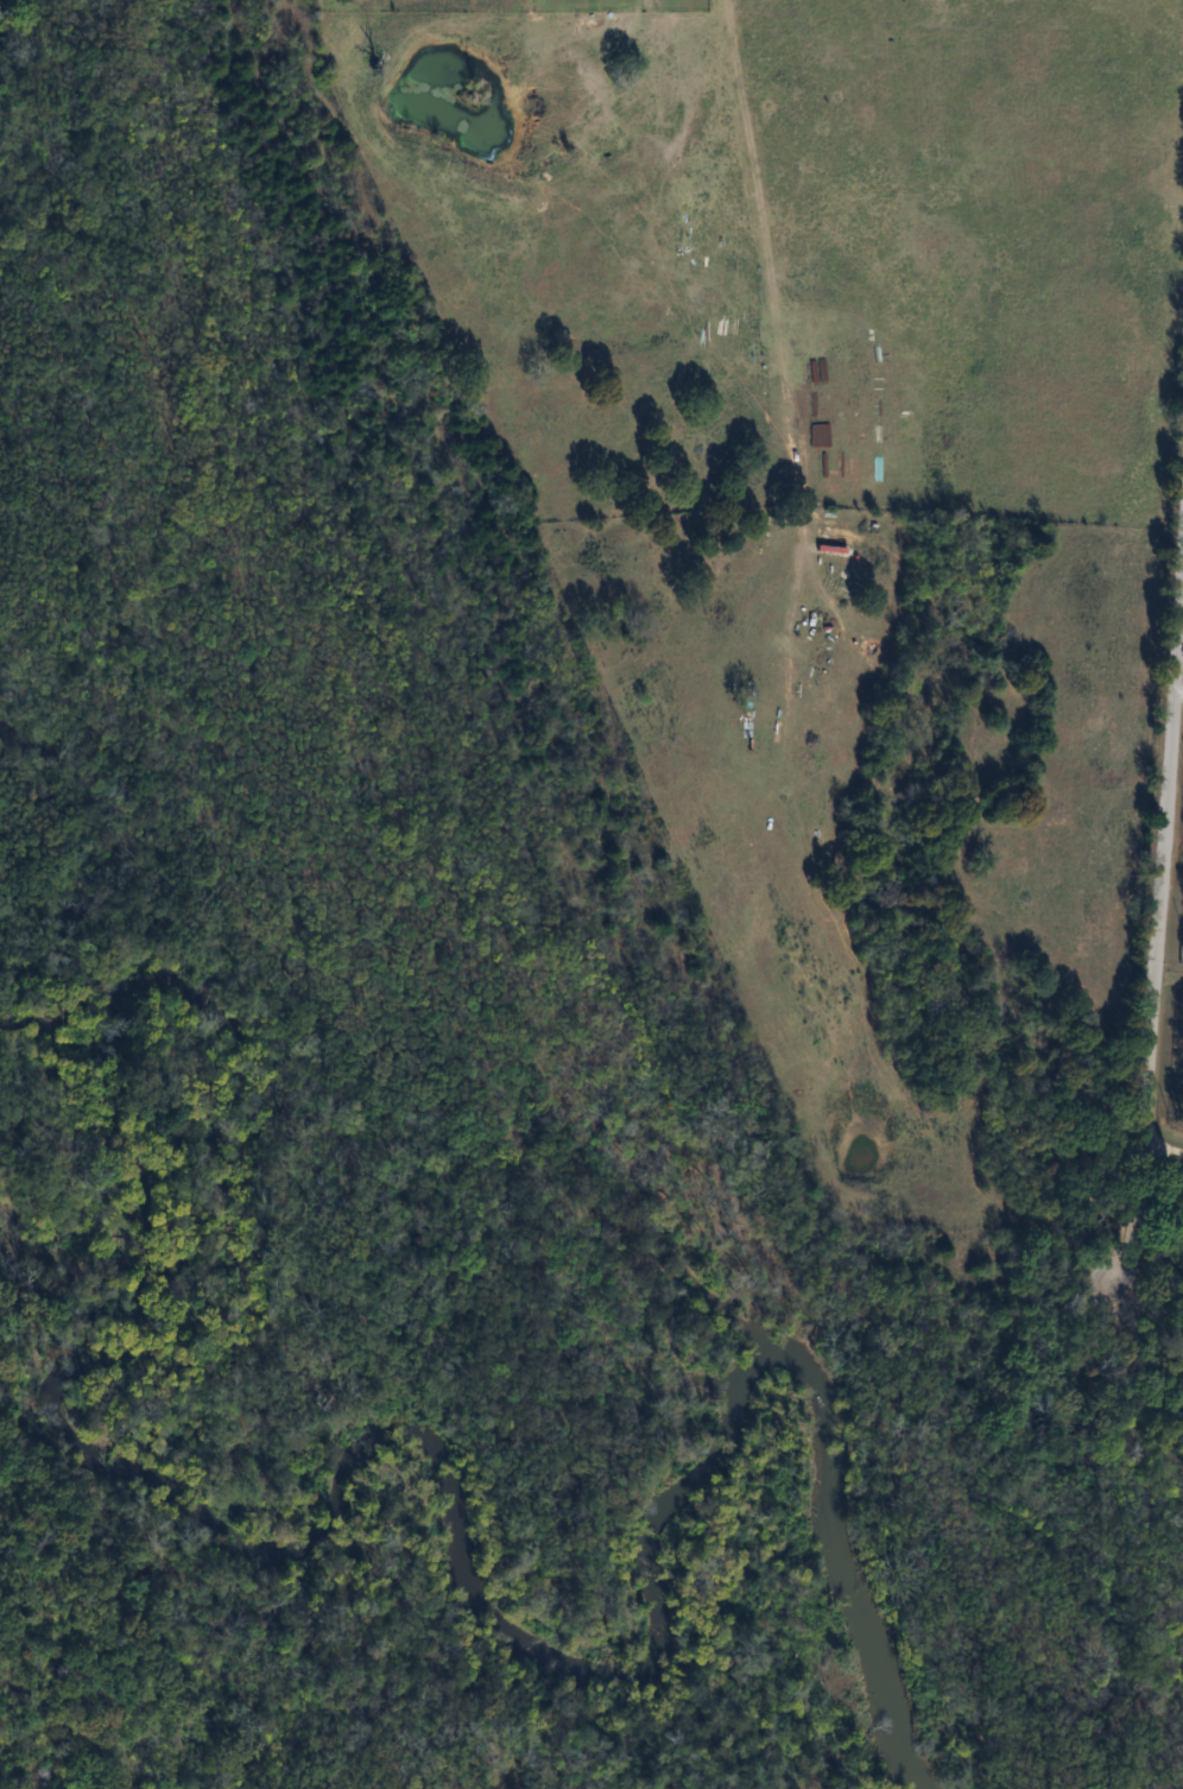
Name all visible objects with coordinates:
road: (1177, 689)
road: (1162, 834)

